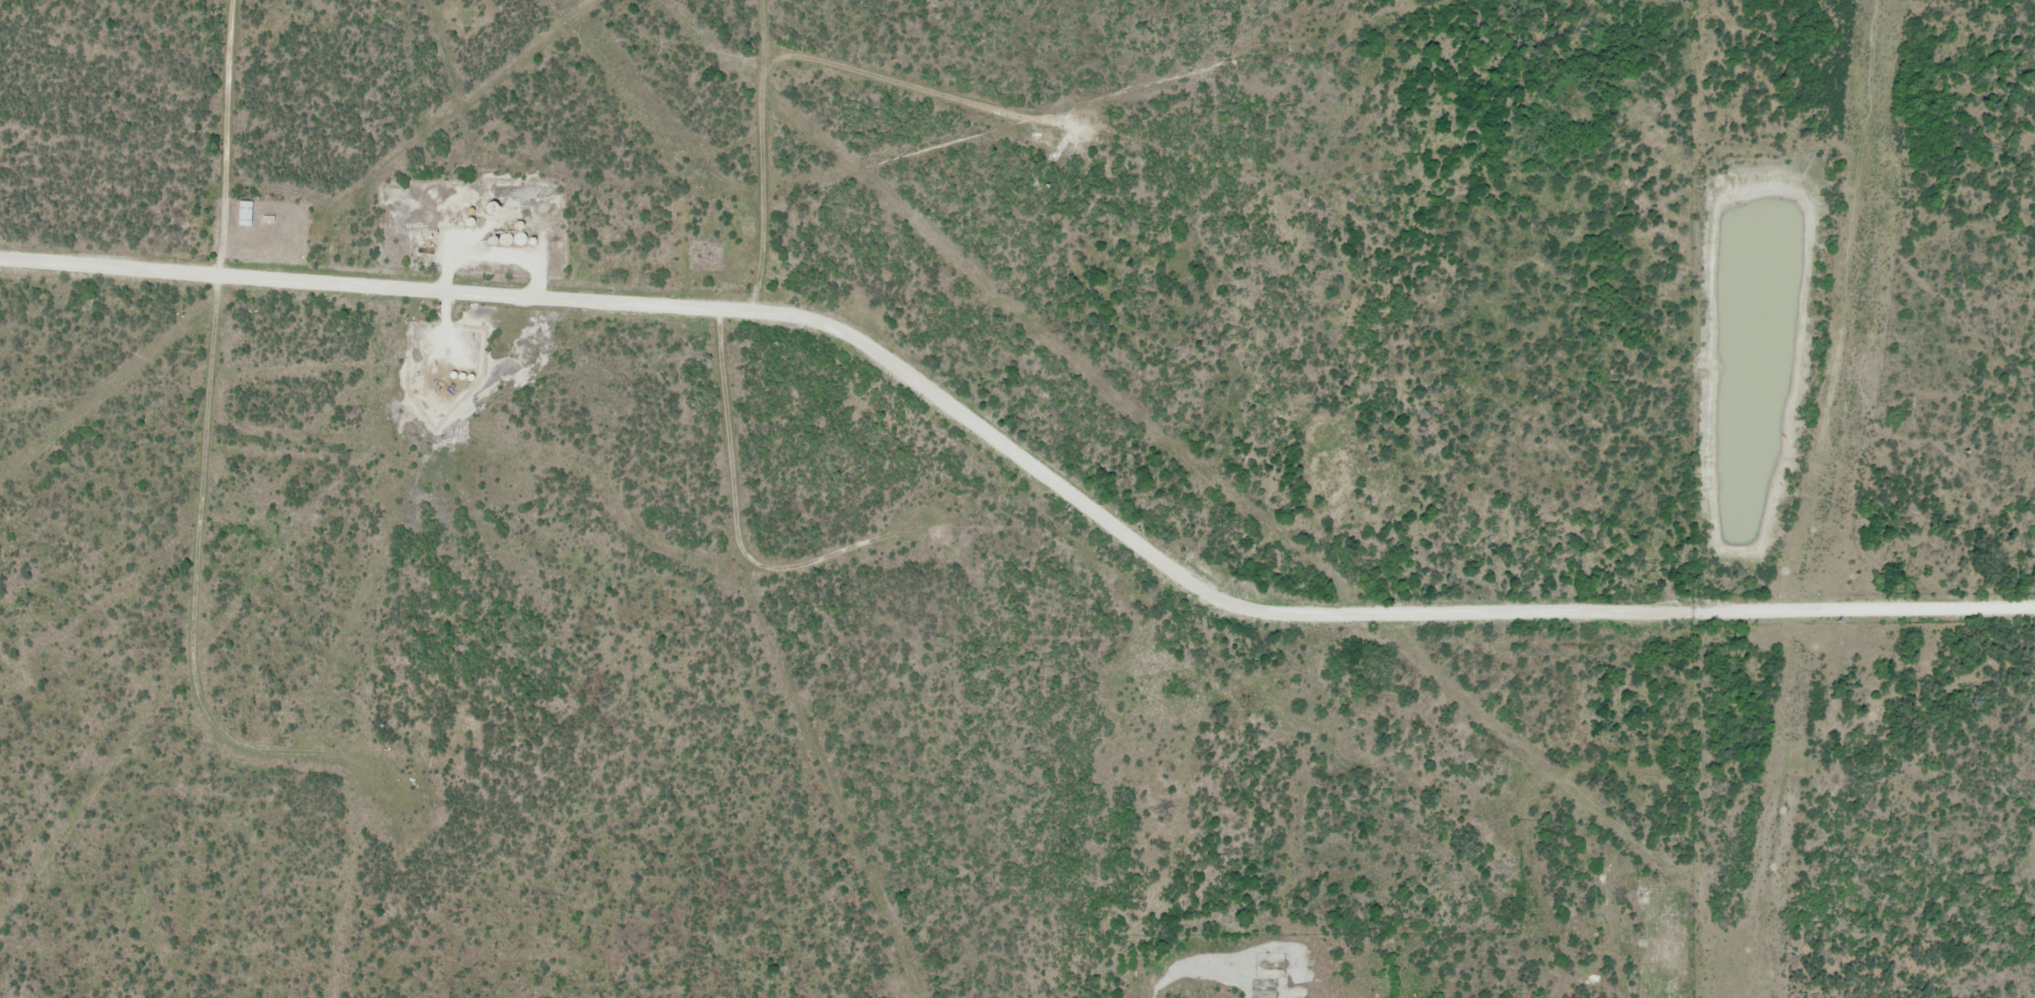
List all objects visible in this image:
road: (756, 155)
building: (247, 213)
building: (506, 239)
road: (1018, 455)

